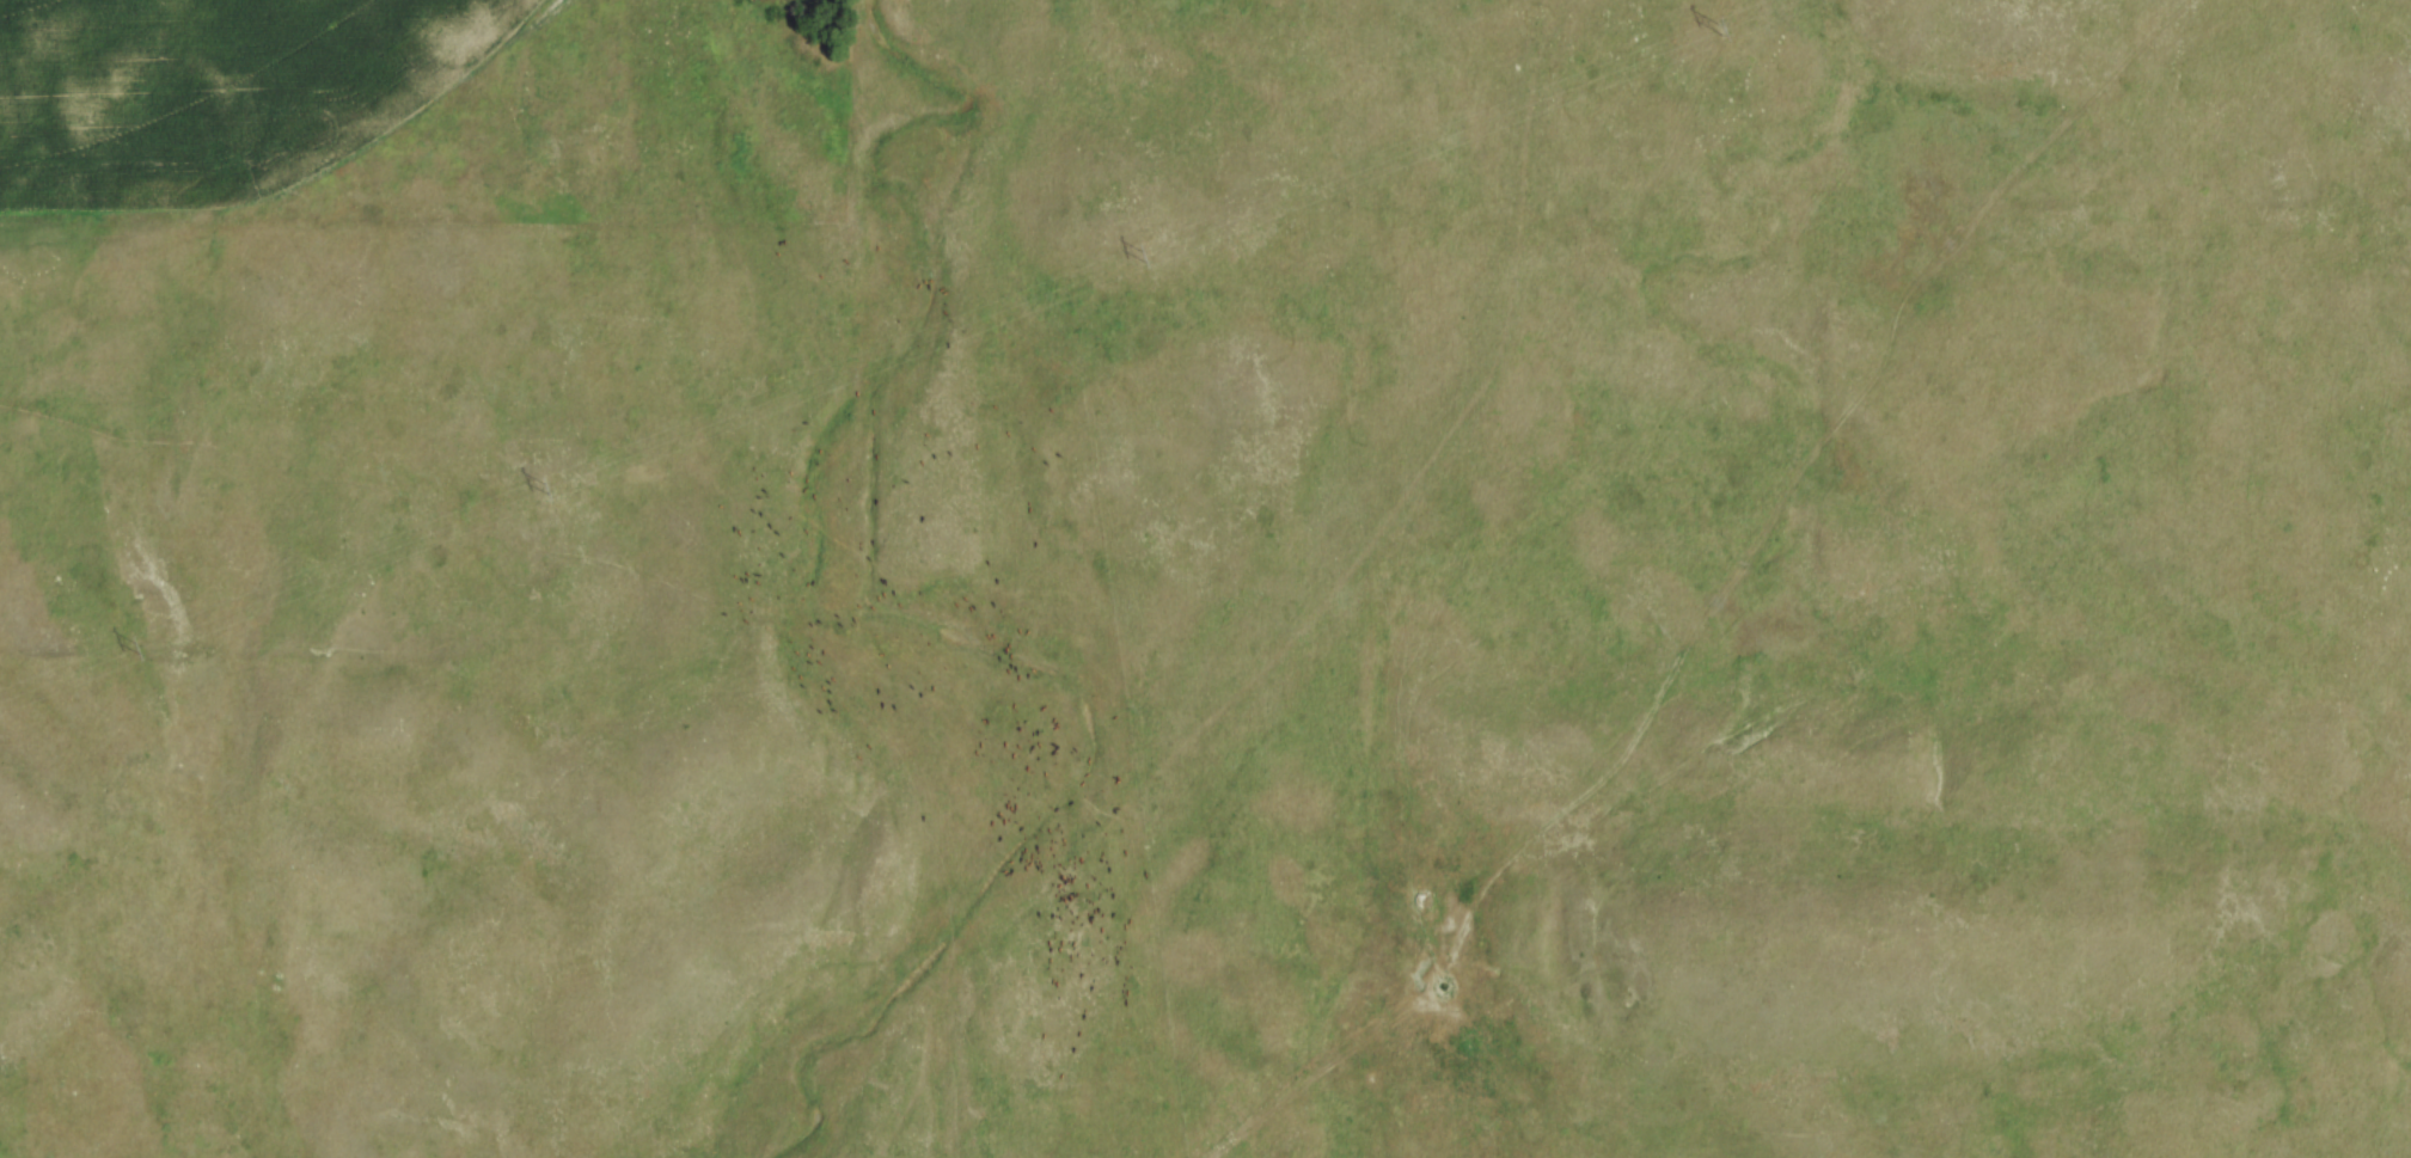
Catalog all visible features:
power tower: (1718, 31)
power tower: (1142, 258)
power tower: (545, 491)
power tower: (135, 650)

